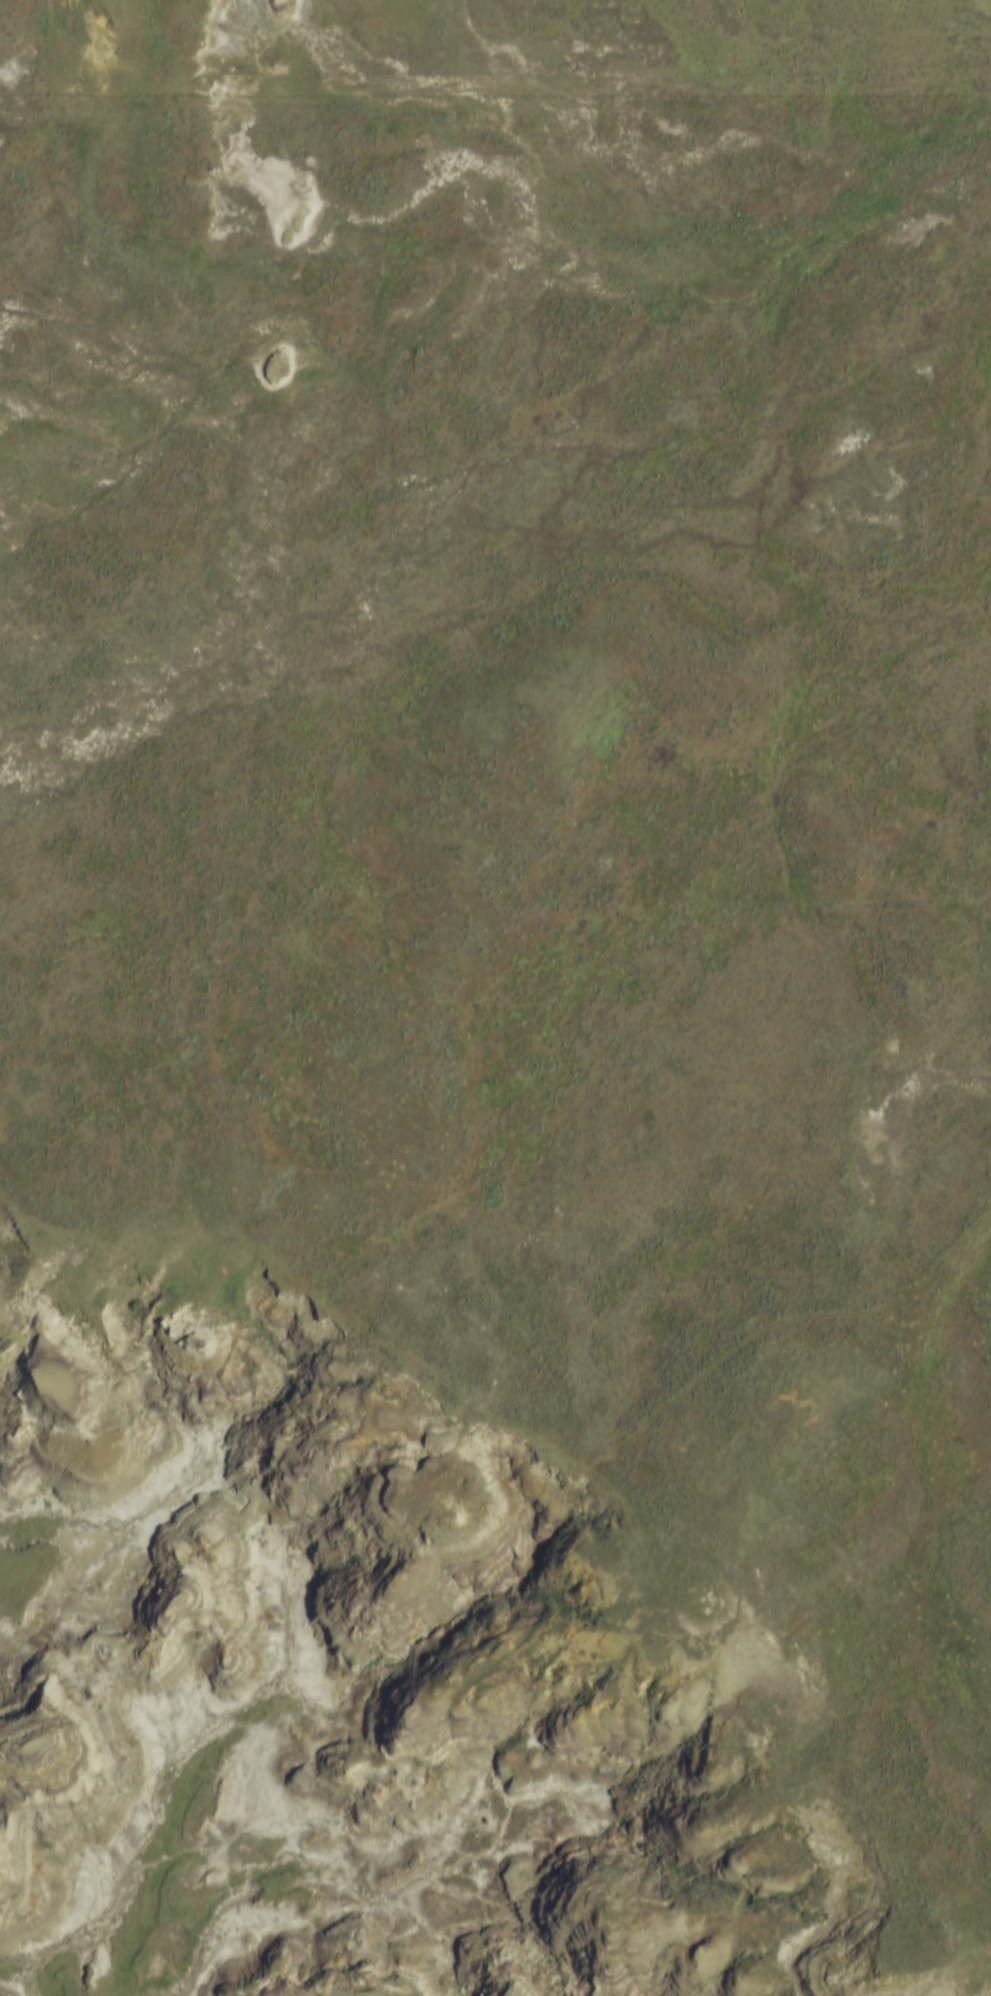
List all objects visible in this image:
road: (551, 1355)

